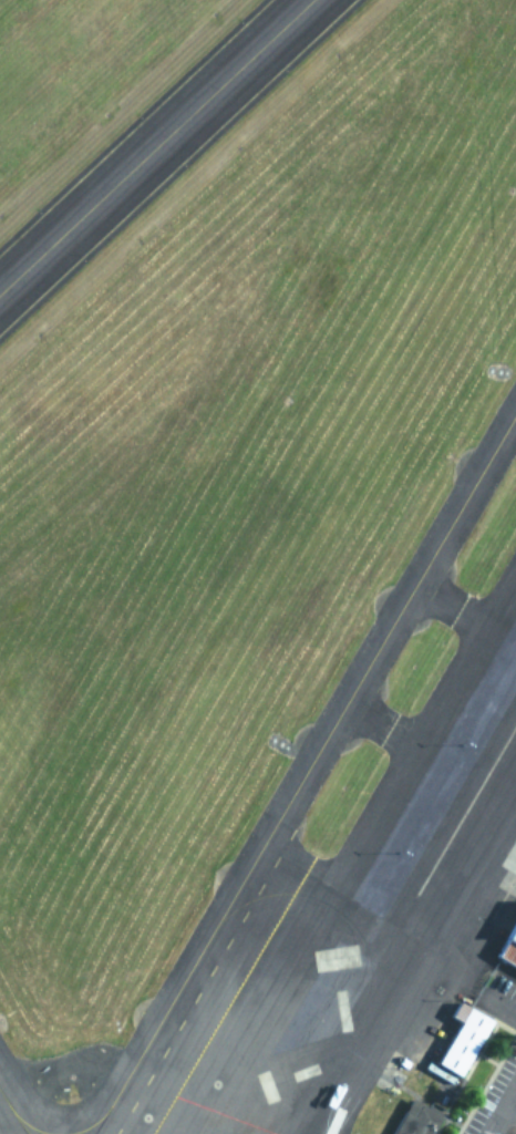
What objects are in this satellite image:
airport taxiway: (156, 146)
airport: (258, 567)
airport taxiway: (305, 773)
airport apron: (375, 893)
building: (508, 950)
parking lot: (507, 989)
road: (503, 1007)
building: (461, 1041)
parking lot: (499, 1106)
airport taxiway: (11, 1116)
road: (505, 1116)
road: (509, 1121)
building: (415, 1122)
airport taxiway: (21, 1132)

